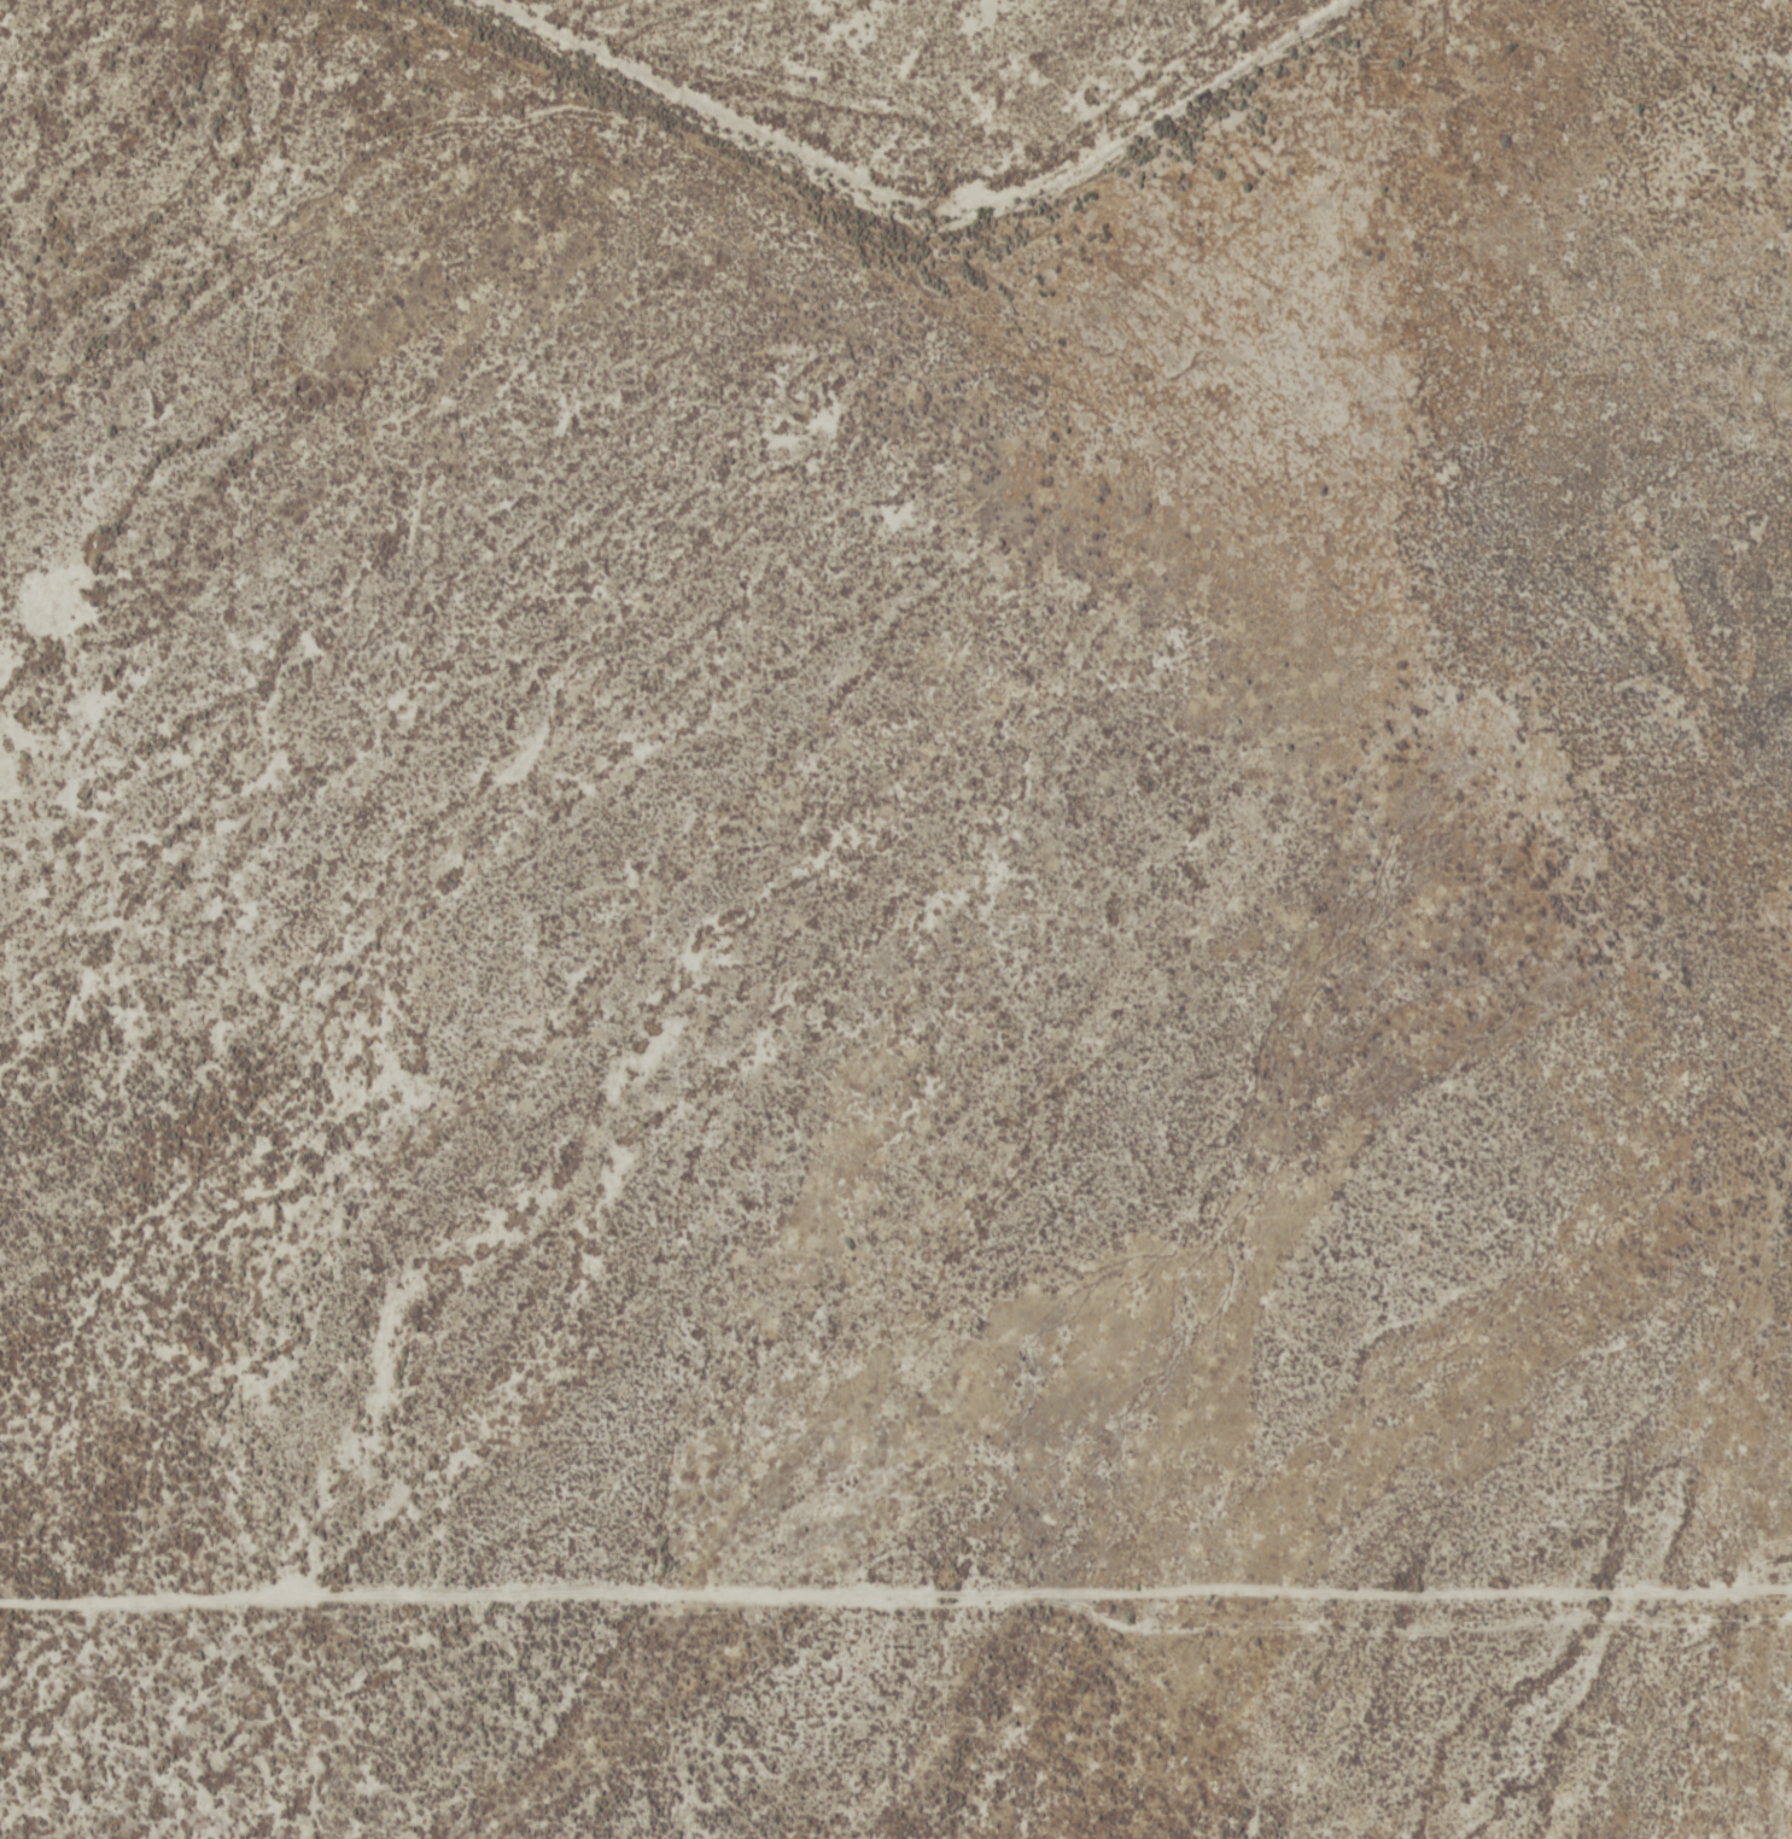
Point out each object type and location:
crop: (895, 920)

